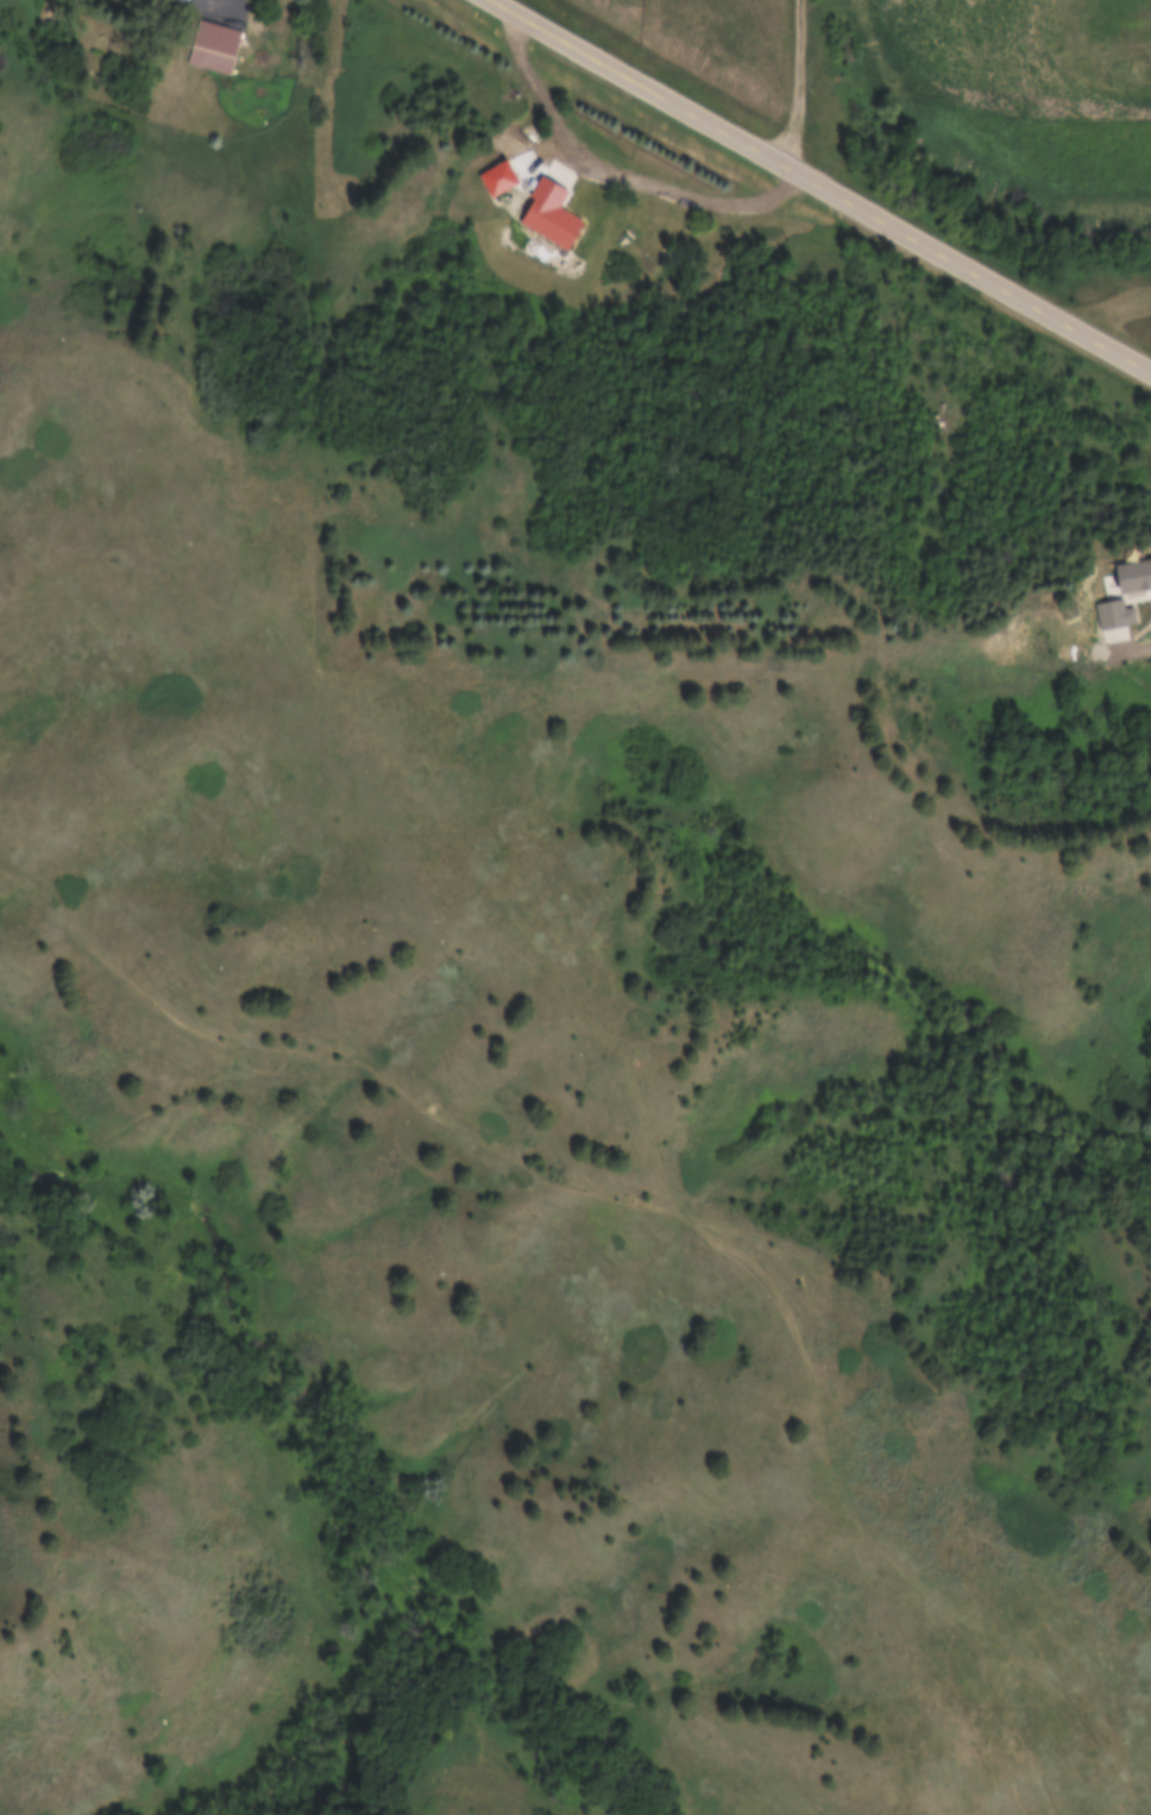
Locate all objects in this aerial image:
building: (215, 39)
road: (803, 80)
road: (825, 181)

